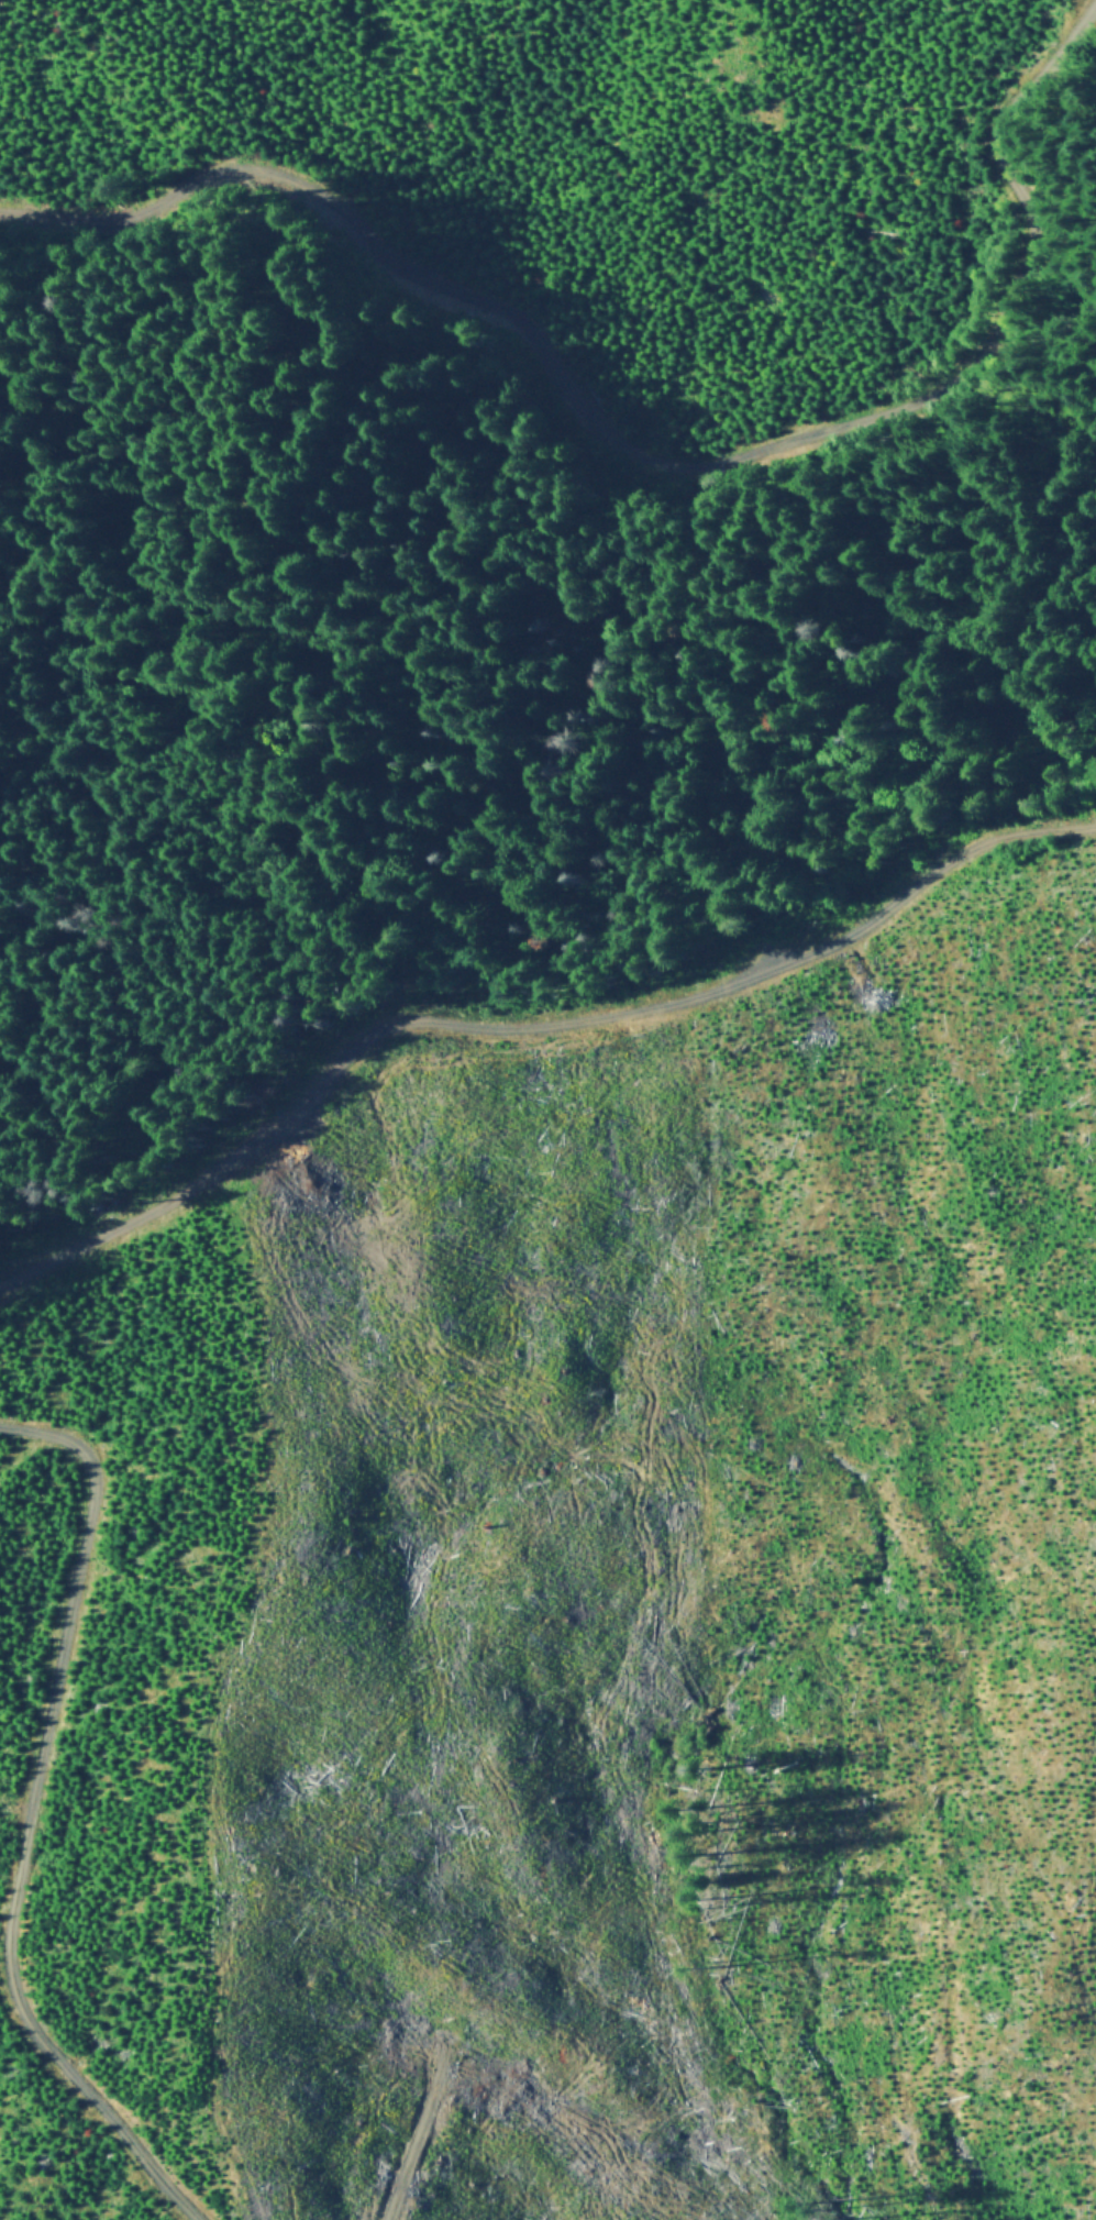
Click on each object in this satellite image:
road: (566, 380)
road: (525, 1020)
road: (18, 1442)
road: (25, 1822)

